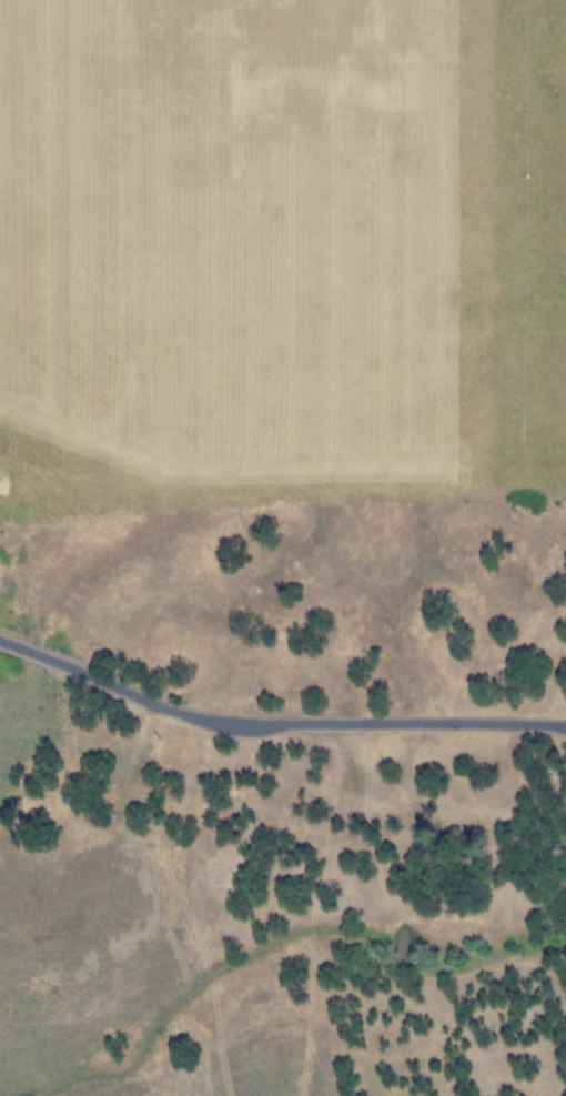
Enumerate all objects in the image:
road: (275, 723)

